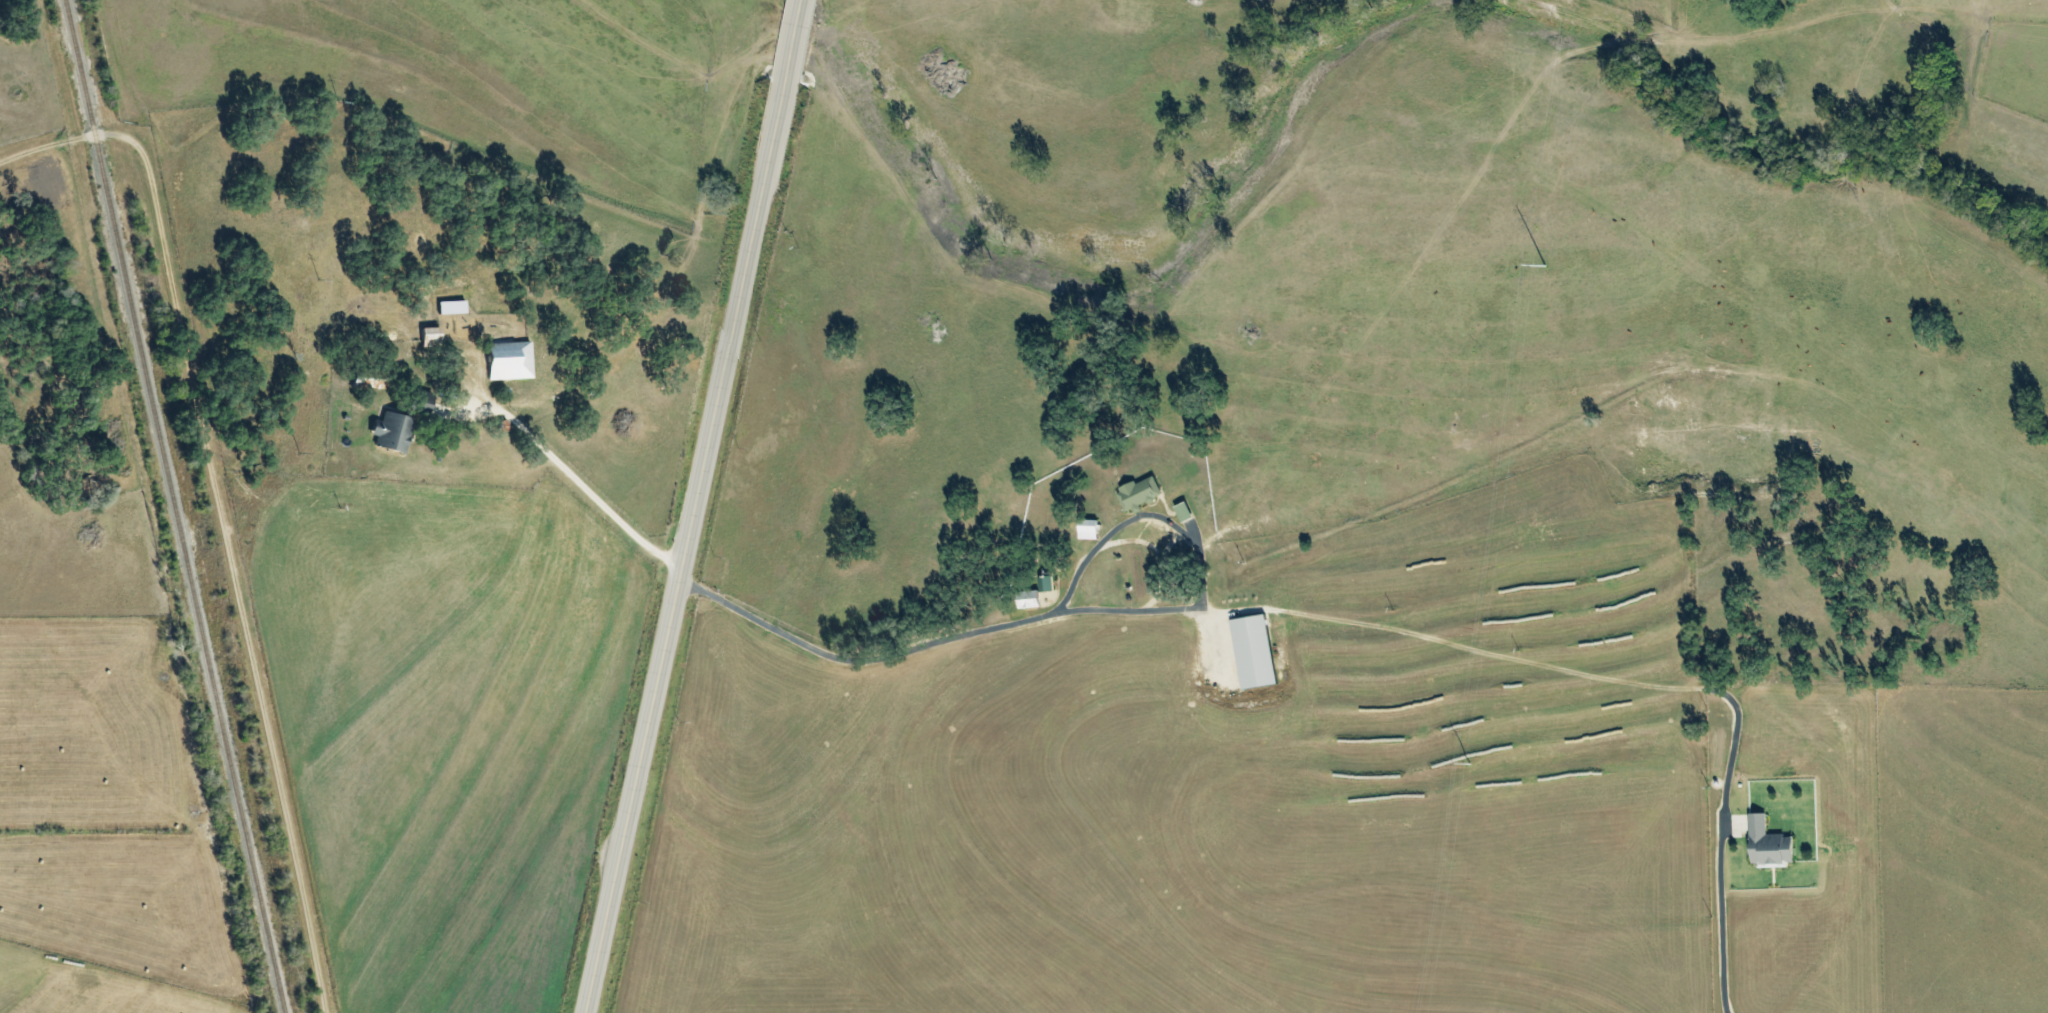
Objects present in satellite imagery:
road: (804, 34)
power tower: (1544, 268)
building: (450, 307)
building: (429, 336)
building: (508, 360)
building: (418, 401)
building: (389, 432)
building: (1138, 493)
railway: (173, 506)
road: (219, 508)
building: (1087, 529)
road: (693, 541)
building: (1045, 585)
building: (1027, 600)
building: (1256, 650)
road: (821, 657)
power tower: (1468, 765)
building: (1767, 844)

